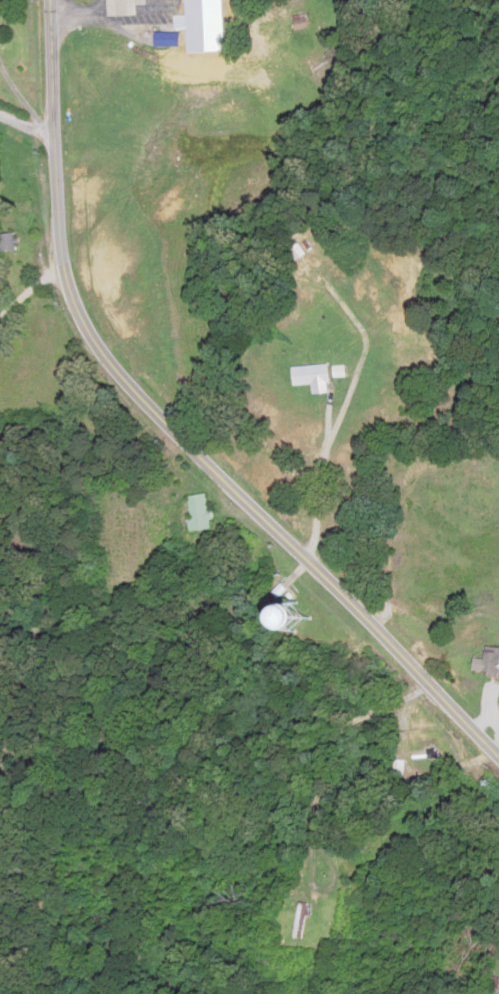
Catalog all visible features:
building: (221, 19)
road: (26, 126)
building: (295, 258)
road: (32, 311)
building: (397, 316)
building: (310, 378)
road: (172, 425)
building: (196, 511)
building: (264, 612)
building: (487, 660)
building: (398, 767)
building: (299, 920)

